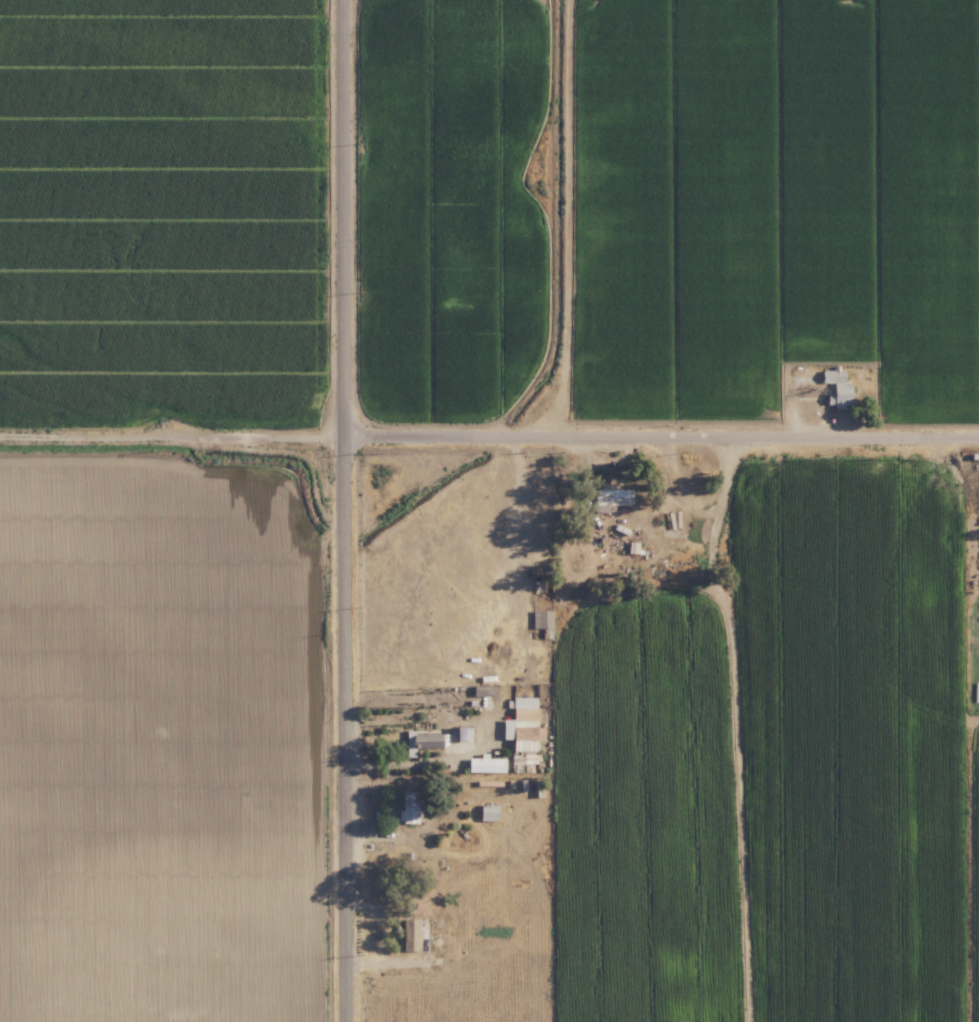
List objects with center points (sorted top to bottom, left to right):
crop: (163, 206)
building: (834, 387)
road: (173, 423)
road: (663, 423)
building: (609, 494)
road: (347, 510)
building: (520, 700)
crop: (975, 711)
crop: (861, 728)
crop: (163, 730)
building: (459, 733)
building: (485, 763)
building: (486, 812)
building: (413, 933)

